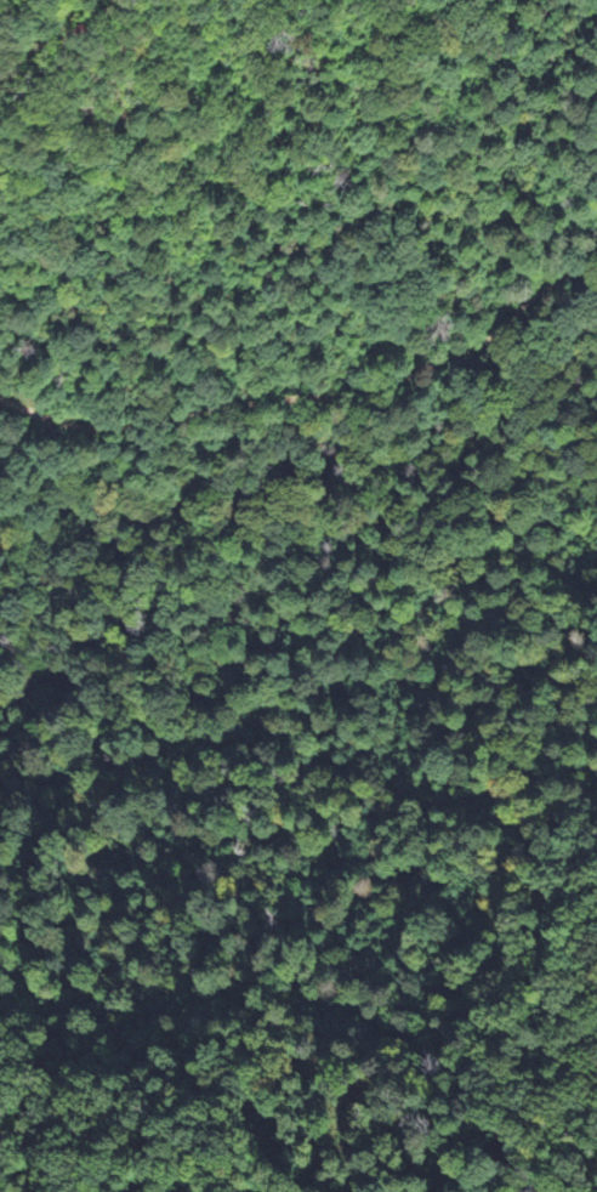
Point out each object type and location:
road: (307, 346)

